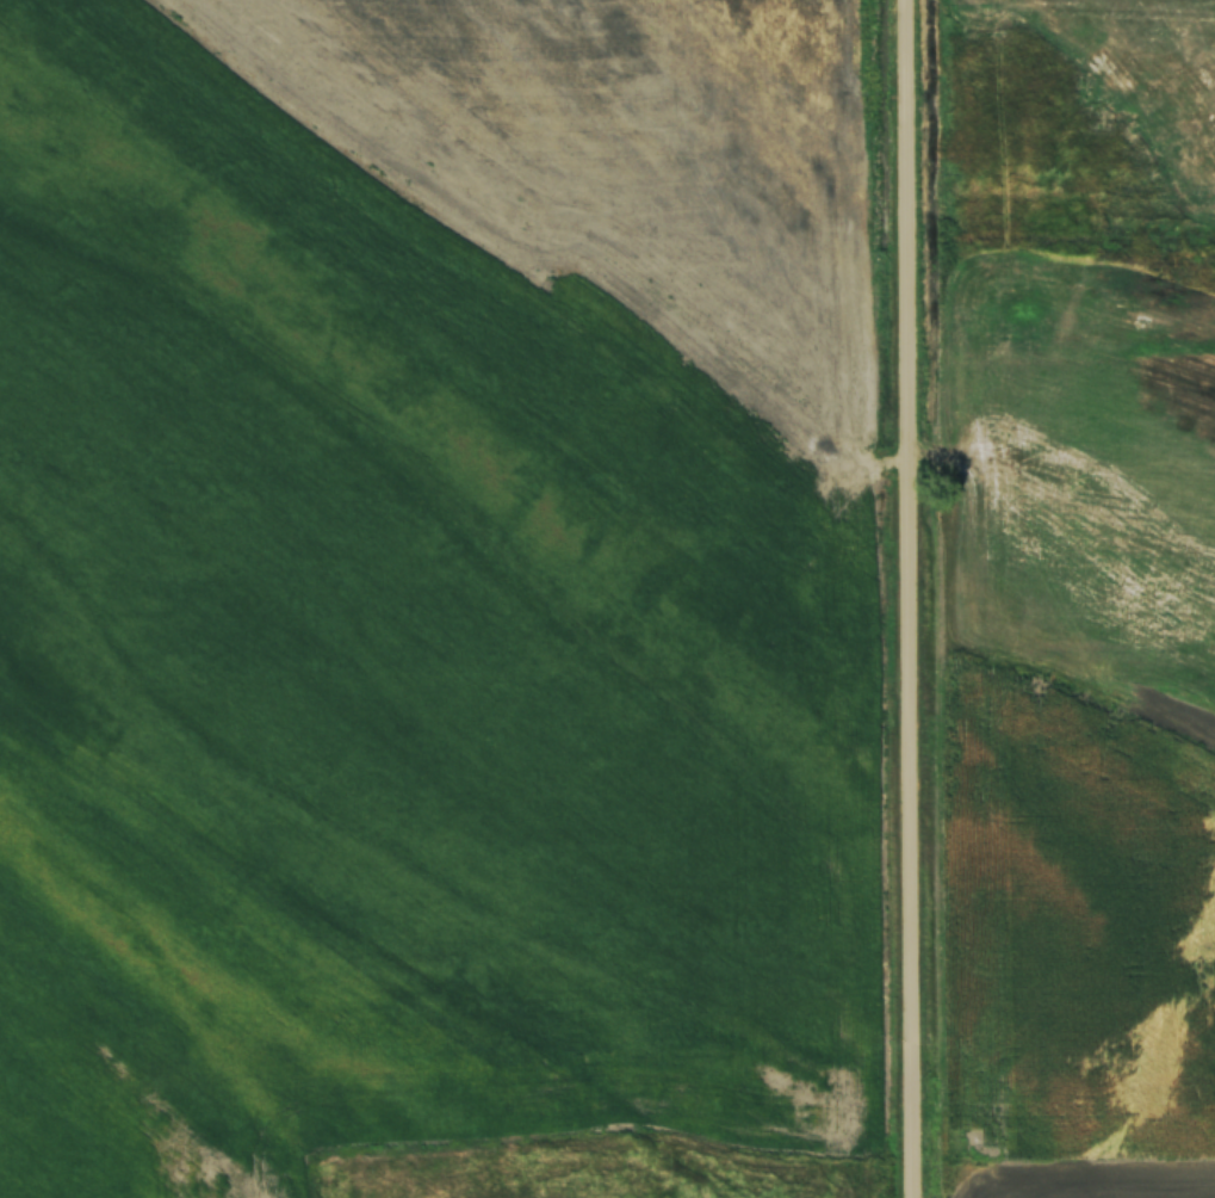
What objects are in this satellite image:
road: (918, 599)

